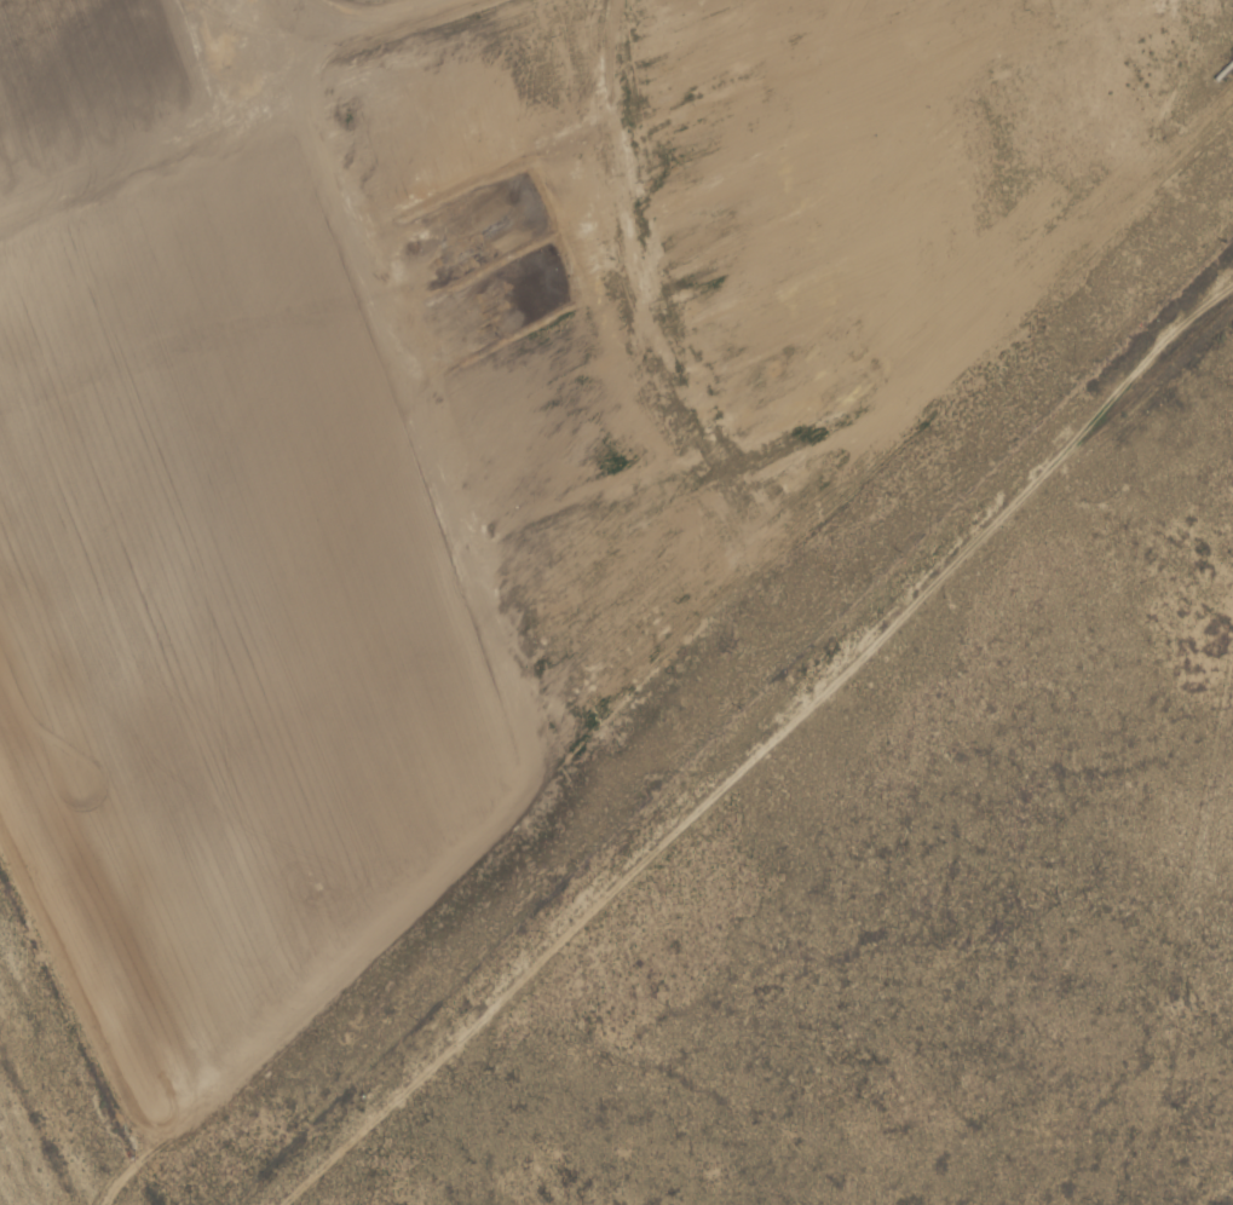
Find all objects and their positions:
landfill: (86, 77)
landfill: (227, 609)

